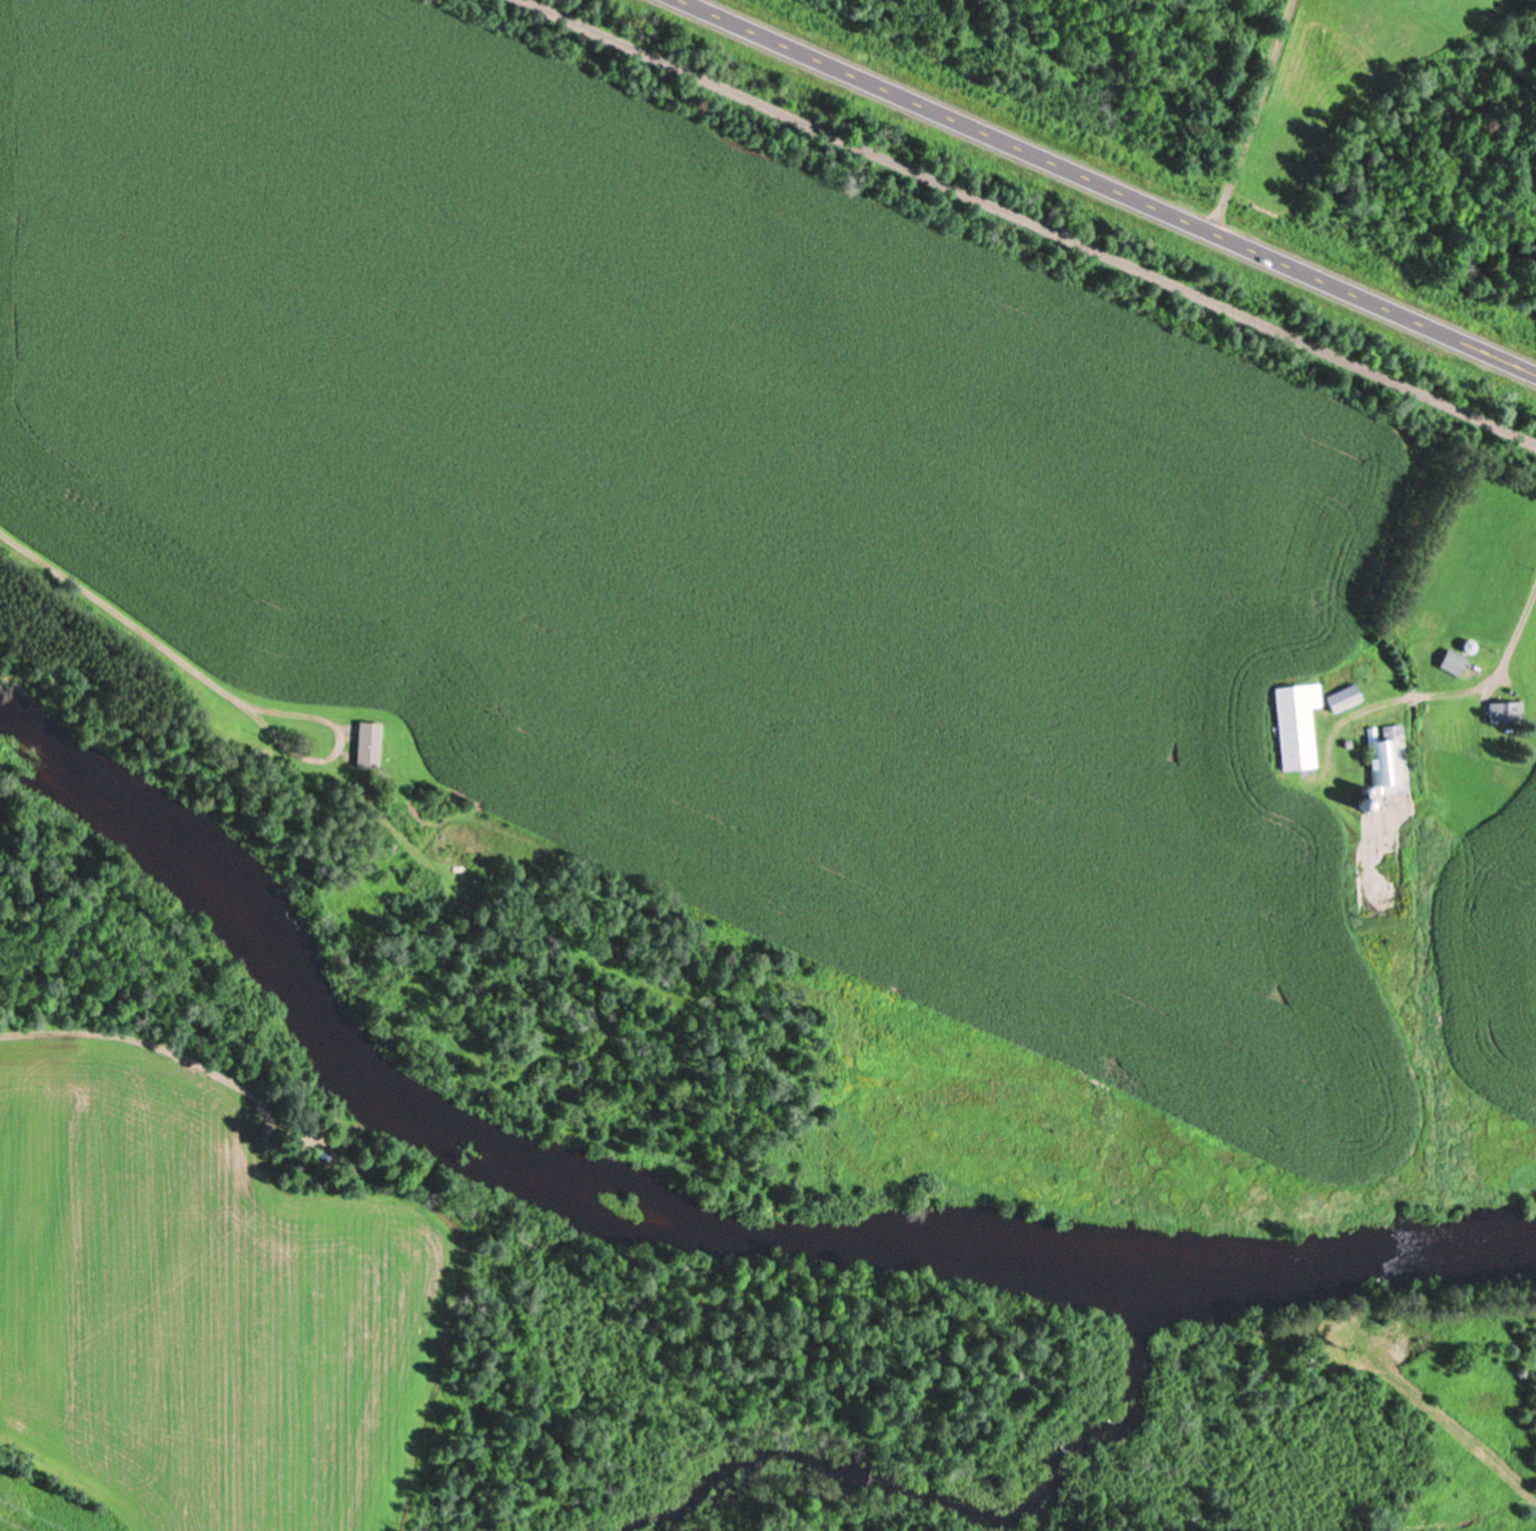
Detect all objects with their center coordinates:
road: (1110, 186)
road: (1034, 219)
road: (112, 608)
building: (1453, 660)
building: (1506, 710)
building: (1304, 719)
building: (369, 744)
building: (1388, 760)
river: (669, 1233)

